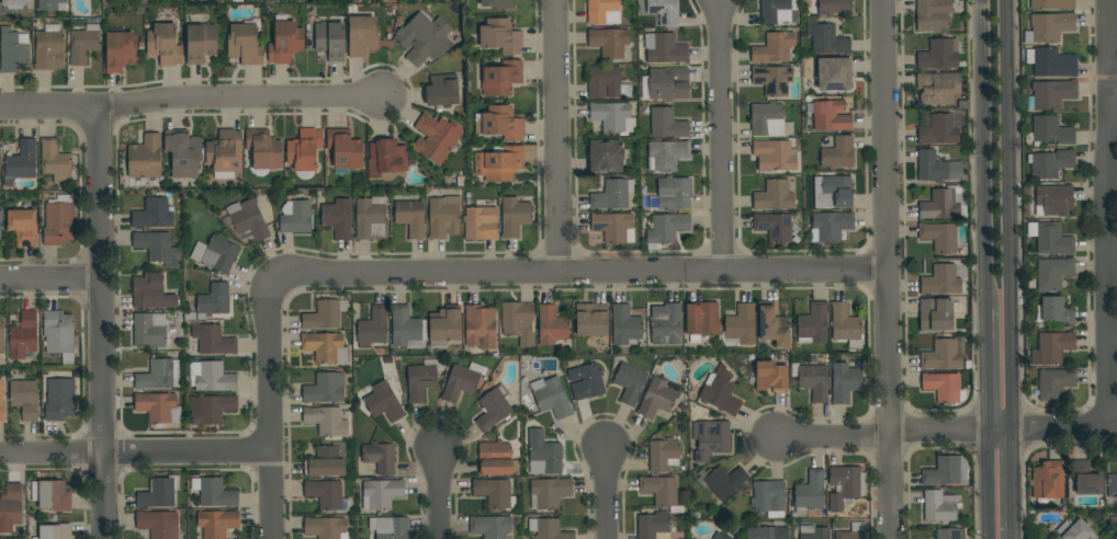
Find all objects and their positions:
building: (49, 3)
building: (497, 3)
building: (14, 4)
building: (1051, 4)
building: (833, 7)
building: (600, 10)
building: (664, 11)
building: (777, 12)
building: (933, 15)
building: (1049, 27)
building: (362, 35)
building: (500, 36)
building: (424, 38)
building: (826, 38)
building: (330, 39)
building: (200, 43)
building: (285, 43)
building: (610, 43)
building: (83, 44)
building: (163, 45)
building: (244, 45)
building: (49, 48)
building: (774, 48)
building: (665, 49)
building: (120, 50)
building: (12, 51)
building: (939, 55)
building: (1051, 62)
building: (835, 74)
building: (501, 78)
building: (772, 80)
building: (606, 82)
building: (668, 84)
building: (442, 90)
building: (939, 90)
road: (1114, 93)
building: (1051, 94)
road: (191, 99)
building: (828, 116)
building: (612, 117)
building: (767, 119)
building: (500, 123)
building: (666, 123)
building: (939, 130)
building: (1049, 131)
road: (557, 136)
road: (721, 136)
building: (436, 138)
building: (263, 149)
building: (345, 149)
building: (223, 150)
building: (304, 150)
building: (182, 153)
building: (774, 153)
building: (838, 153)
building: (666, 154)
road: (984, 154)
building: (606, 156)
building: (145, 158)
building: (386, 160)
building: (55, 161)
building: (20, 162)
building: (498, 163)
building: (1050, 163)
building: (937, 168)
building: (832, 192)
building: (674, 193)
building: (612, 195)
building: (774, 196)
building: (1052, 200)
building: (943, 204)
road: (1107, 213)
building: (153, 215)
road: (1008, 215)
building: (295, 217)
building: (410, 217)
building: (443, 217)
building: (514, 217)
building: (338, 218)
building: (371, 218)
building: (248, 219)
building: (1, 220)
building: (57, 223)
building: (479, 223)
building: (23, 227)
building: (613, 227)
building: (774, 227)
building: (830, 227)
building: (666, 228)
building: (939, 237)
building: (1050, 239)
building: (157, 248)
building: (219, 254)
road: (889, 268)
road: (579, 272)
building: (1051, 274)
road: (50, 279)
building: (944, 279)
building: (150, 293)
building: (214, 300)
building: (1054, 311)
building: (324, 314)
building: (935, 314)
building: (516, 319)
building: (701, 319)
building: (591, 320)
road: (102, 323)
building: (444, 324)
building: (813, 324)
building: (551, 325)
building: (772, 325)
building: (479, 326)
building: (666, 326)
building: (740, 326)
building: (845, 326)
building: (373, 328)
building: (405, 328)
building: (625, 328)
building: (149, 330)
building: (58, 332)
building: (1, 335)
building: (23, 335)
building: (212, 340)
building: (325, 347)
building: (1052, 347)
building: (941, 355)
road: (989, 369)
building: (159, 375)
building: (211, 377)
building: (770, 377)
building: (585, 380)
building: (812, 380)
building: (462, 381)
building: (420, 382)
building: (630, 382)
building: (844, 382)
building: (1052, 385)
building: (944, 387)
building: (325, 389)
building: (721, 391)
building: (551, 397)
building: (24, 399)
building: (59, 399)
building: (656, 399)
building: (384, 402)
building: (1, 404)
road: (270, 406)
building: (158, 408)
building: (210, 409)
building: (493, 409)
building: (324, 420)
road: (1063, 427)
road: (1001, 429)
road: (940, 431)
building: (710, 438)
road: (833, 438)
road: (135, 452)
building: (542, 454)
building: (663, 455)
building: (380, 457)
building: (496, 459)
building: (327, 460)
building: (945, 471)
building: (1086, 479)
building: (722, 481)
road: (1013, 483)
building: (1048, 483)
road: (990, 484)
building: (1112, 485)
building: (845, 486)
building: (661, 491)
building: (214, 492)
building: (549, 492)
road: (606, 492)
building: (159, 493)
building: (495, 493)
building: (809, 493)
building: (327, 494)
building: (381, 494)
road: (439, 494)
building: (50, 495)
building: (768, 497)
building: (10, 507)
building: (939, 507)
building: (1114, 520)
building: (217, 523)
building: (158, 524)
building: (653, 526)
building: (390, 527)
building: (490, 527)
building: (326, 528)
building: (548, 529)
building: (1074, 530)
building: (55, 531)
building: (853, 531)
building: (766, 532)
building: (814, 532)
building: (950, 534)
building: (720, 536)
road: (1014, 538)
building: (1048, 538)
building: (1050, 538)

